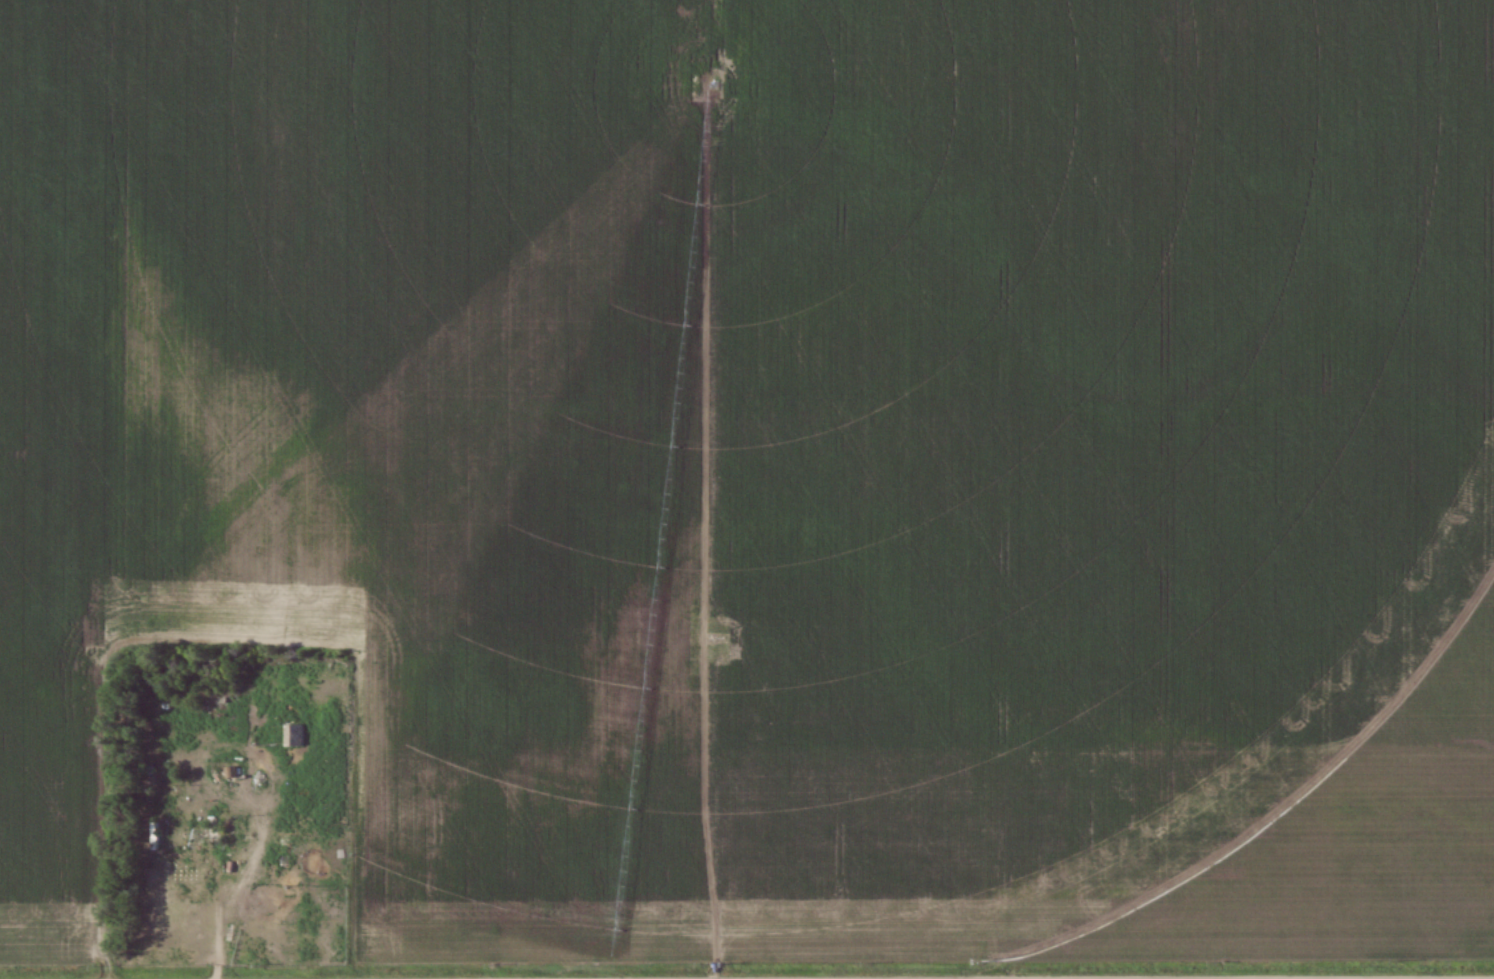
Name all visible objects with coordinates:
building: (292, 736)
road: (221, 912)

